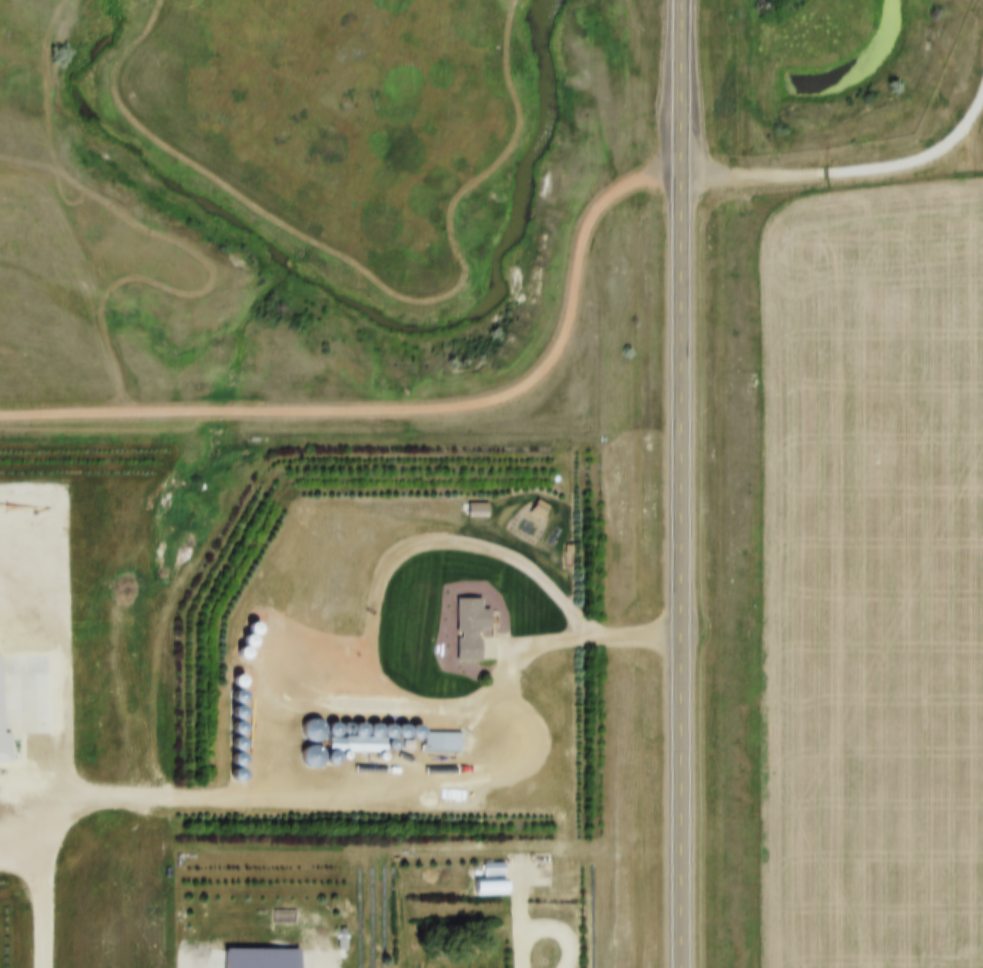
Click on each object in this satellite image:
road: (978, 149)
road: (846, 175)
road: (680, 483)
building: (464, 619)
building: (435, 733)
road: (487, 776)
building: (487, 860)
road: (519, 913)

